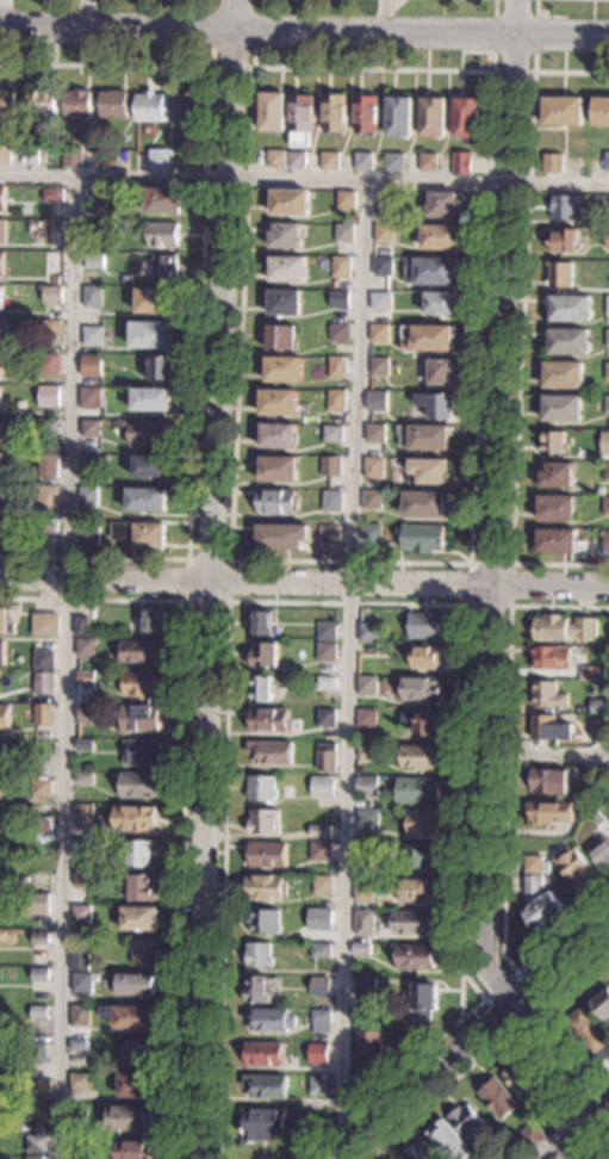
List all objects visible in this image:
road: (195, 7)
road: (271, 7)
road: (83, 16)
road: (236, 16)
road: (385, 17)
road: (203, 30)
road: (261, 32)
road: (304, 32)
road: (210, 61)
road: (251, 61)
road: (232, 66)
road: (511, 72)
building: (42, 103)
building: (77, 104)
building: (113, 105)
building: (149, 107)
building: (601, 110)
building: (561, 111)
building: (272, 112)
building: (335, 114)
building: (366, 114)
building: (7, 117)
building: (398, 117)
building: (184, 118)
building: (433, 118)
building: (465, 118)
building: (300, 122)
building: (5, 156)
building: (32, 157)
building: (70, 157)
building: (102, 157)
building: (159, 160)
building: (274, 161)
building: (296, 161)
building: (329, 161)
building: (362, 162)
building: (393, 162)
building: (427, 162)
building: (605, 162)
building: (461, 163)
building: (552, 163)
road: (304, 178)
building: (52, 196)
building: (93, 197)
building: (2, 199)
building: (163, 200)
building: (346, 200)
building: (385, 200)
building: (290, 203)
building: (443, 206)
building: (565, 207)
building: (50, 227)
building: (98, 229)
building: (1, 231)
building: (344, 234)
building: (384, 234)
building: (284, 236)
building: (162, 237)
building: (440, 237)
building: (607, 238)
building: (563, 241)
building: (92, 262)
building: (0, 265)
building: (164, 267)
building: (341, 267)
building: (383, 267)
building: (287, 268)
building: (429, 271)
building: (560, 275)
building: (124, 280)
building: (50, 295)
building: (0, 296)
building: (91, 297)
building: (154, 300)
road: (199, 300)
building: (338, 300)
building: (380, 300)
building: (284, 303)
building: (441, 304)
building: (607, 305)
building: (570, 309)
building: (50, 327)
building: (1, 330)
road: (520, 330)
building: (338, 333)
building: (150, 334)
building: (378, 334)
building: (92, 336)
building: (280, 337)
building: (425, 339)
building: (607, 339)
building: (567, 342)
building: (0, 361)
building: (48, 364)
building: (88, 366)
building: (337, 367)
building: (378, 367)
building: (160, 370)
building: (284, 370)
building: (607, 372)
building: (439, 373)
building: (563, 376)
building: (0, 388)
building: (48, 397)
building: (89, 397)
building: (151, 398)
building: (335, 401)
building: (375, 401)
building: (279, 403)
building: (436, 405)
building: (605, 405)
building: (560, 408)
building: (48, 426)
building: (89, 429)
building: (1, 432)
building: (374, 433)
building: (149, 434)
building: (333, 434)
building: (276, 435)
building: (422, 438)
building: (552, 442)
building: (604, 444)
building: (89, 464)
building: (48, 465)
building: (149, 467)
building: (330, 467)
building: (372, 467)
building: (278, 469)
building: (427, 471)
building: (605, 473)
building: (557, 475)
building: (49, 482)
building: (597, 491)
building: (87, 496)
building: (46, 498)
building: (145, 500)
building: (371, 500)
building: (275, 501)
building: (331, 502)
building: (423, 504)
building: (605, 507)
building: (555, 508)
road: (492, 512)
building: (45, 526)
building: (371, 533)
building: (88, 534)
building: (139, 534)
building: (329, 535)
building: (281, 537)
building: (420, 539)
building: (604, 539)
building: (558, 541)
road: (466, 564)
road: (304, 581)
road: (206, 595)
road: (225, 602)
road: (383, 605)
road: (466, 606)
building: (7, 620)
building: (151, 622)
building: (260, 622)
building: (44, 625)
building: (424, 625)
building: (80, 626)
building: (561, 628)
building: (325, 631)
building: (368, 631)
building: (85, 647)
building: (365, 647)
building: (2, 652)
building: (138, 652)
building: (325, 652)
building: (263, 653)
road: (347, 656)
building: (424, 656)
building: (551, 657)
building: (43, 661)
road: (66, 667)
building: (589, 674)
building: (85, 677)
building: (325, 682)
building: (43, 683)
building: (141, 684)
building: (365, 686)
building: (421, 688)
building: (260, 689)
building: (605, 690)
building: (547, 695)
building: (599, 706)
building: (87, 713)
building: (43, 714)
building: (4, 717)
building: (324, 718)
building: (365, 718)
building: (139, 719)
building: (268, 720)
building: (422, 723)
building: (548, 727)
building: (598, 730)
building: (82, 744)
building: (366, 751)
building: (142, 752)
building: (271, 752)
building: (1, 754)
building: (418, 756)
building: (324, 757)
road: (548, 758)
building: (589, 774)
building: (79, 777)
building: (607, 780)
building: (548, 781)
building: (139, 786)
building: (365, 786)
road: (181, 787)
building: (319, 787)
building: (41, 788)
building: (260, 788)
building: (416, 789)
building: (0, 795)
road: (505, 798)
building: (547, 811)
building: (82, 813)
building: (133, 818)
building: (595, 818)
building: (262, 820)
building: (366, 820)
building: (42, 824)
building: (422, 824)
building: (318, 831)
building: (82, 844)
building: (319, 851)
building: (363, 853)
building: (599, 853)
building: (139, 854)
building: (266, 854)
building: (420, 856)
building: (532, 864)
building: (574, 867)
building: (82, 879)
building: (24, 880)
building: (533, 884)
building: (321, 885)
building: (139, 888)
building: (265, 888)
building: (362, 890)
building: (417, 891)
building: (38, 905)
building: (542, 910)
building: (80, 915)
building: (138, 918)
building: (317, 918)
building: (263, 921)
building: (412, 922)
building: (363, 923)
building: (41, 938)
building: (319, 949)
building: (360, 949)
building: (144, 953)
building: (257, 955)
building: (415, 956)
building: (77, 962)
building: (38, 975)
building: (81, 983)
building: (132, 984)
building: (319, 986)
building: (363, 987)
building: (256, 988)
road: (535, 994)
building: (422, 1002)
building: (602, 1004)
building: (38, 1012)
road: (549, 1012)
building: (80, 1016)
building: (360, 1016)
building: (129, 1017)
building: (271, 1021)
building: (319, 1023)
building: (588, 1034)
building: (79, 1045)
building: (368, 1045)
road: (462, 1046)
road: (495, 1046)
building: (138, 1052)
building: (36, 1053)
building: (316, 1053)
building: (262, 1054)
building: (608, 1059)
road: (563, 1062)
building: (517, 1074)
building: (79, 1083)
building: (136, 1085)
building: (265, 1086)
building: (319, 1086)
building: (35, 1091)
building: (498, 1098)
building: (77, 1114)
building: (555, 1114)
building: (129, 1117)
building: (465, 1120)
building: (14, 1123)
building: (271, 1124)
road: (572, 1128)
building: (530, 1134)
building: (448, 1141)
building: (35, 1145)
building: (77, 1148)
building: (133, 1149)
building: (572, 1151)
building: (416, 1152)
building: (492, 1157)
building: (555, 1157)
building: (33, 1158)

